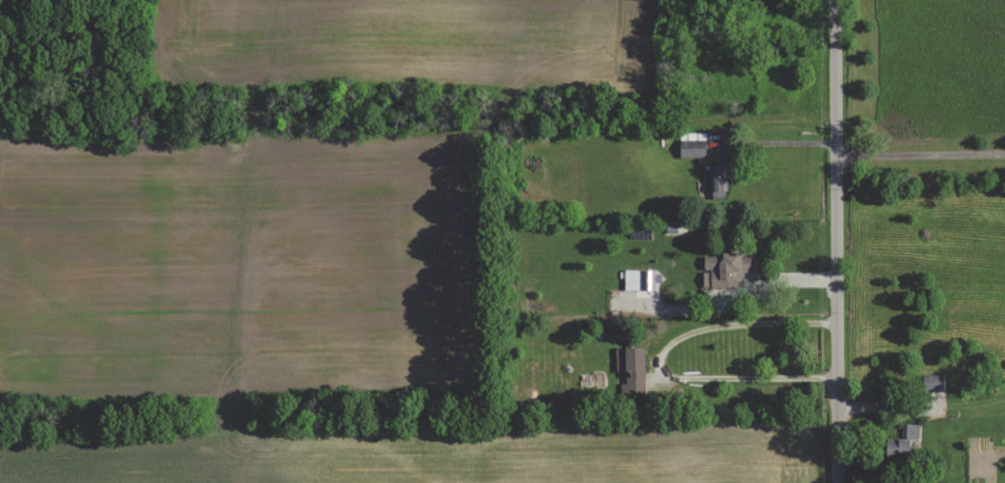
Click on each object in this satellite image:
road: (776, 140)
road: (919, 152)
building: (717, 180)
road: (833, 241)
building: (725, 270)
building: (638, 279)
road: (765, 281)
road: (666, 359)
building: (632, 368)
building: (934, 383)

